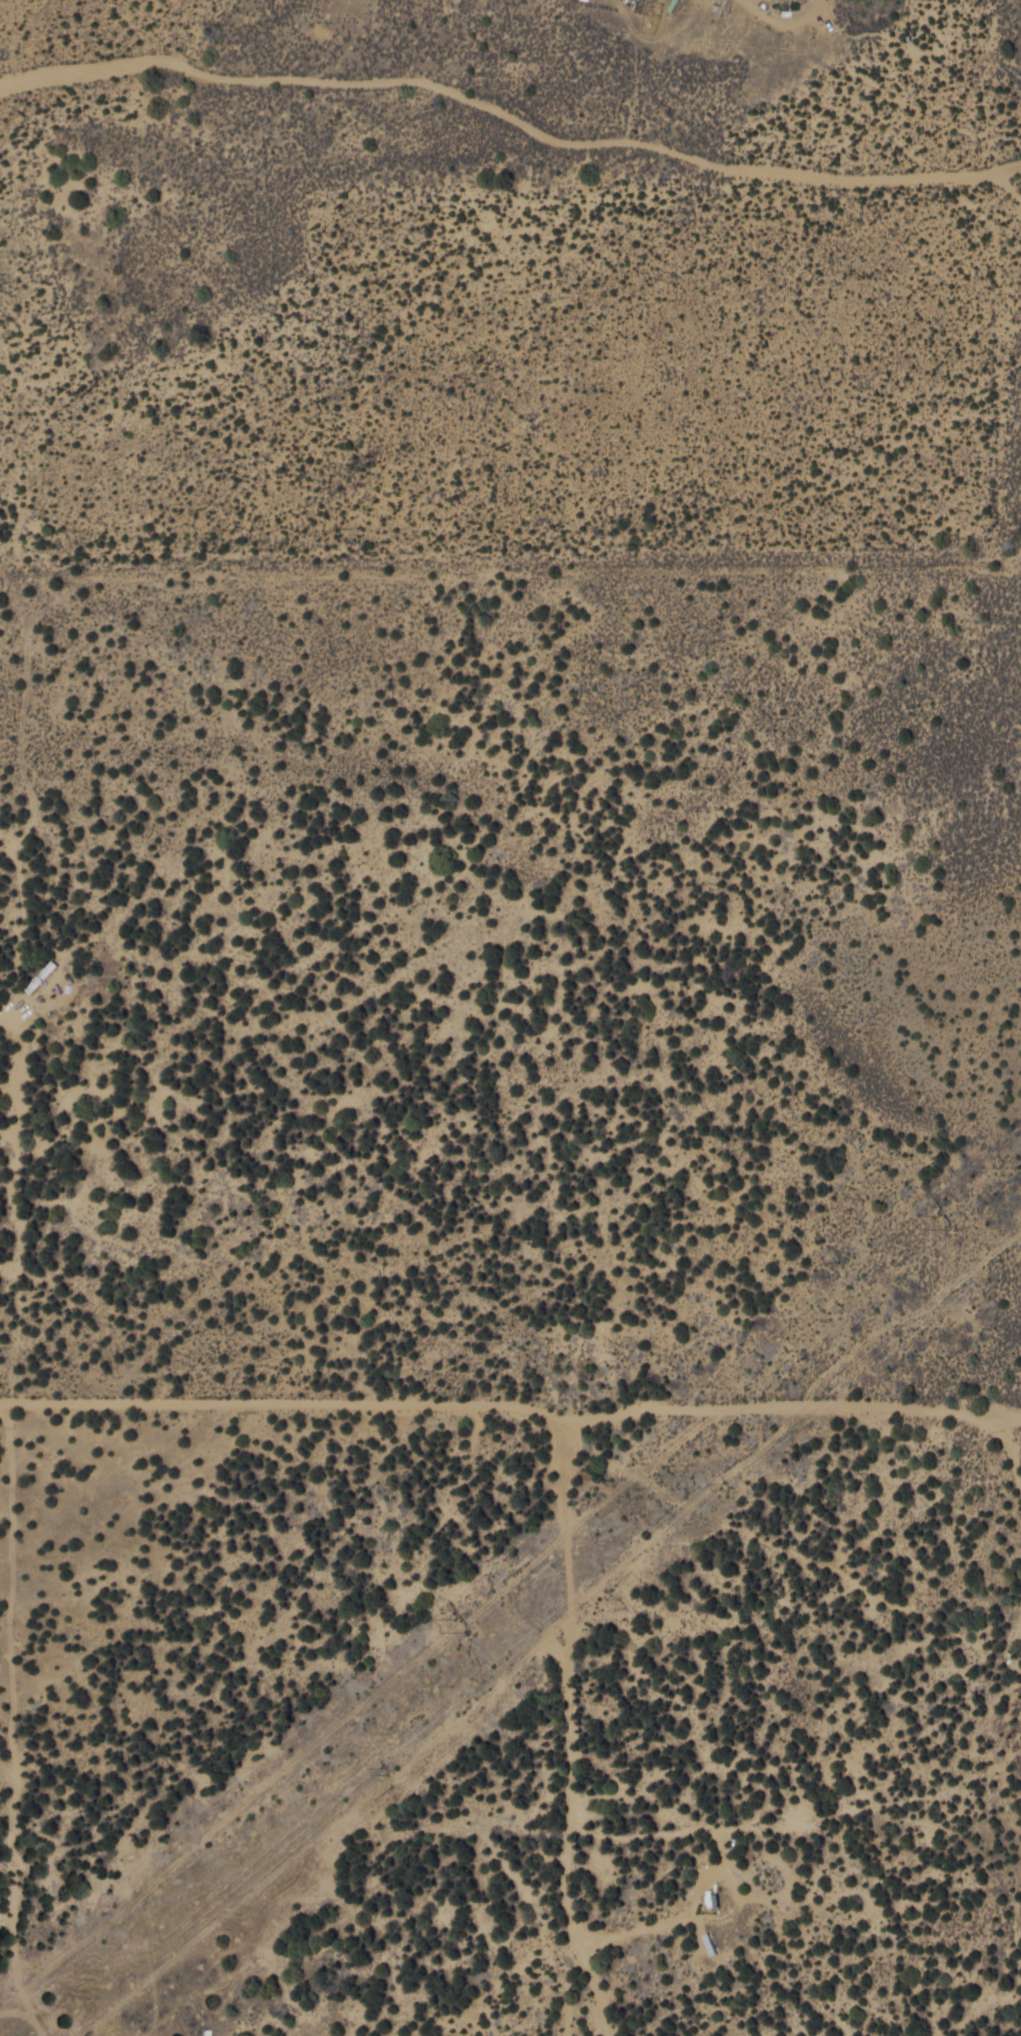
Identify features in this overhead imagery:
building: (43, 976)
road: (66, 1058)
power tower: (946, 1223)
road: (414, 1359)
road: (793, 1514)
power tower: (460, 1628)
road: (570, 1765)
power tower: (384, 1768)

